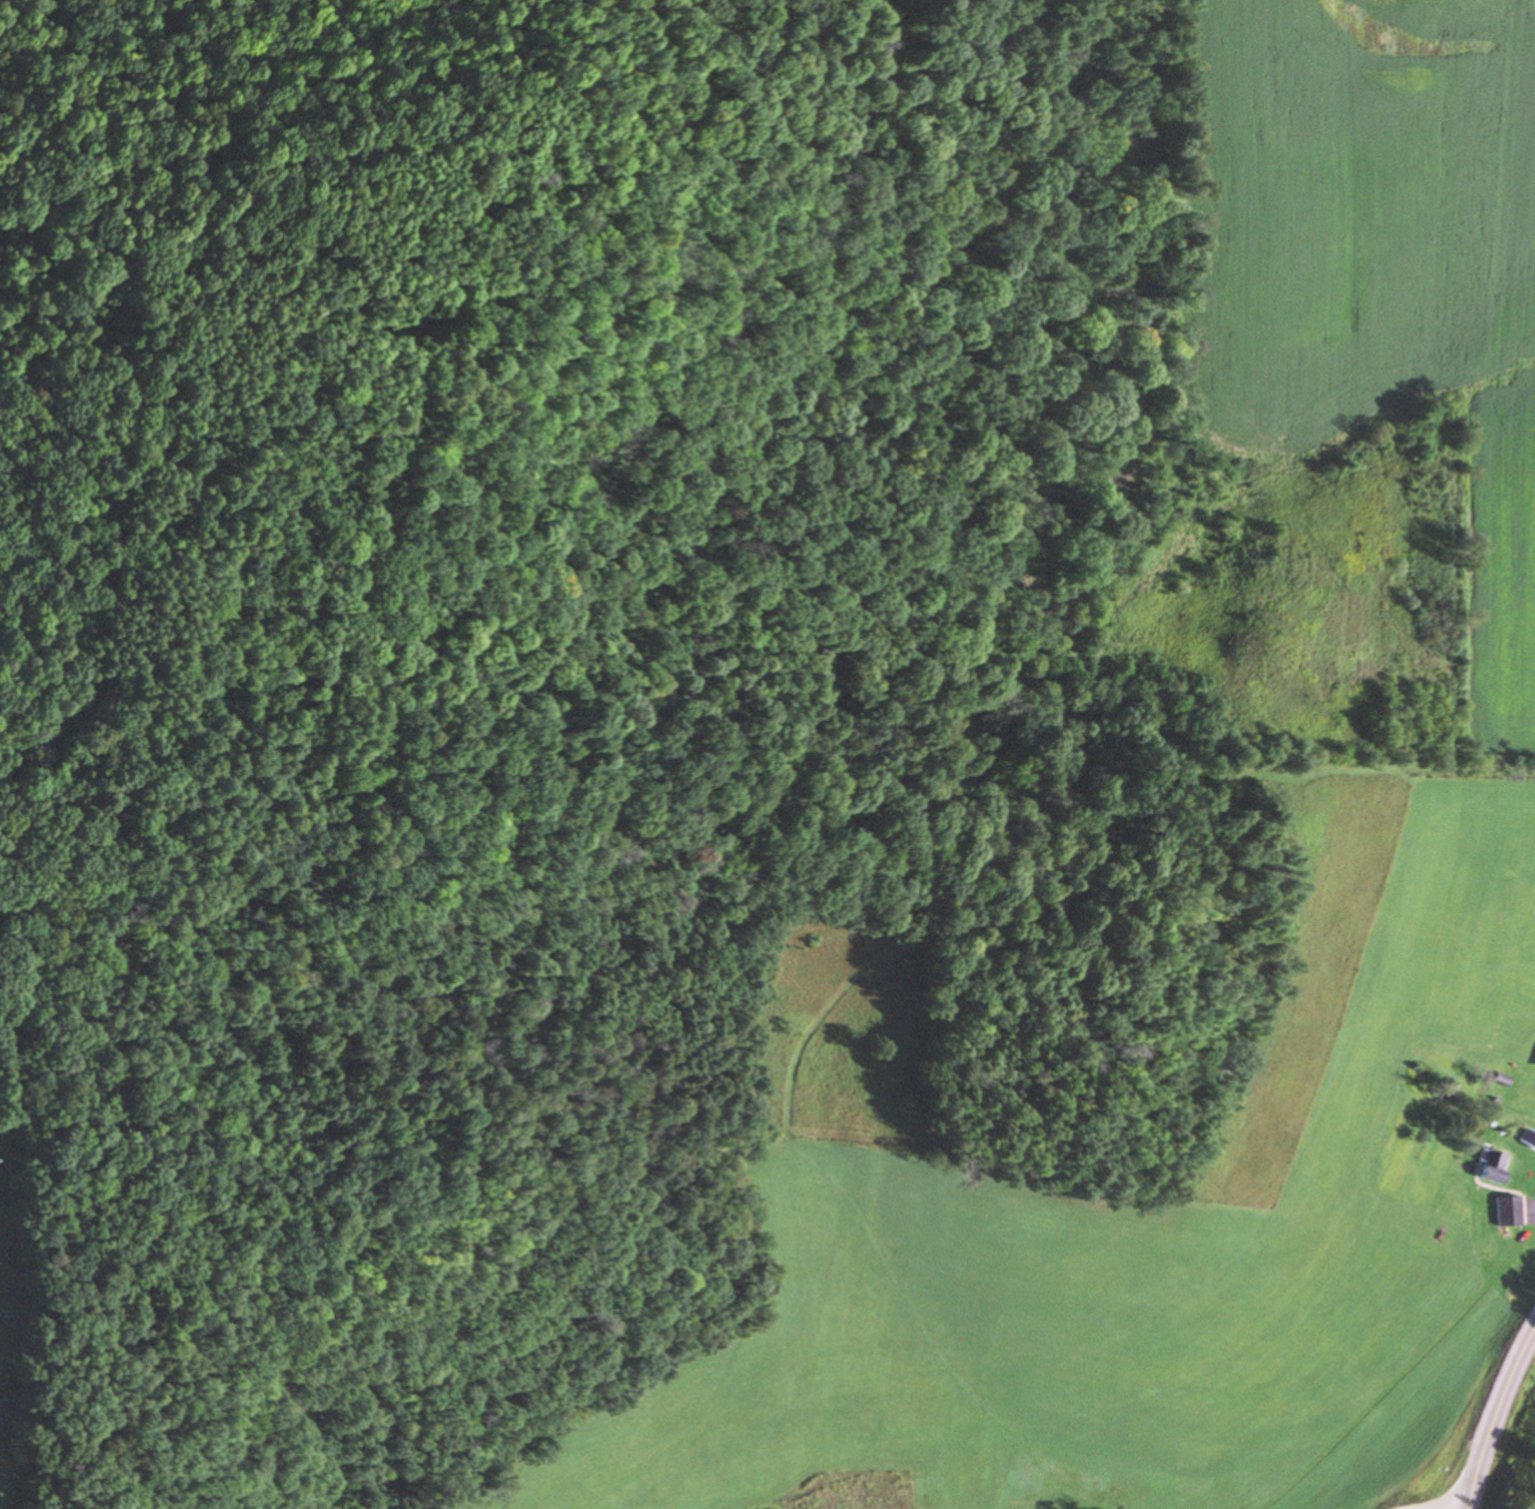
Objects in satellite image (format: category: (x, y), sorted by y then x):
building: (1526, 1139)
building: (1488, 1167)
building: (1503, 1212)
road: (1498, 1413)

